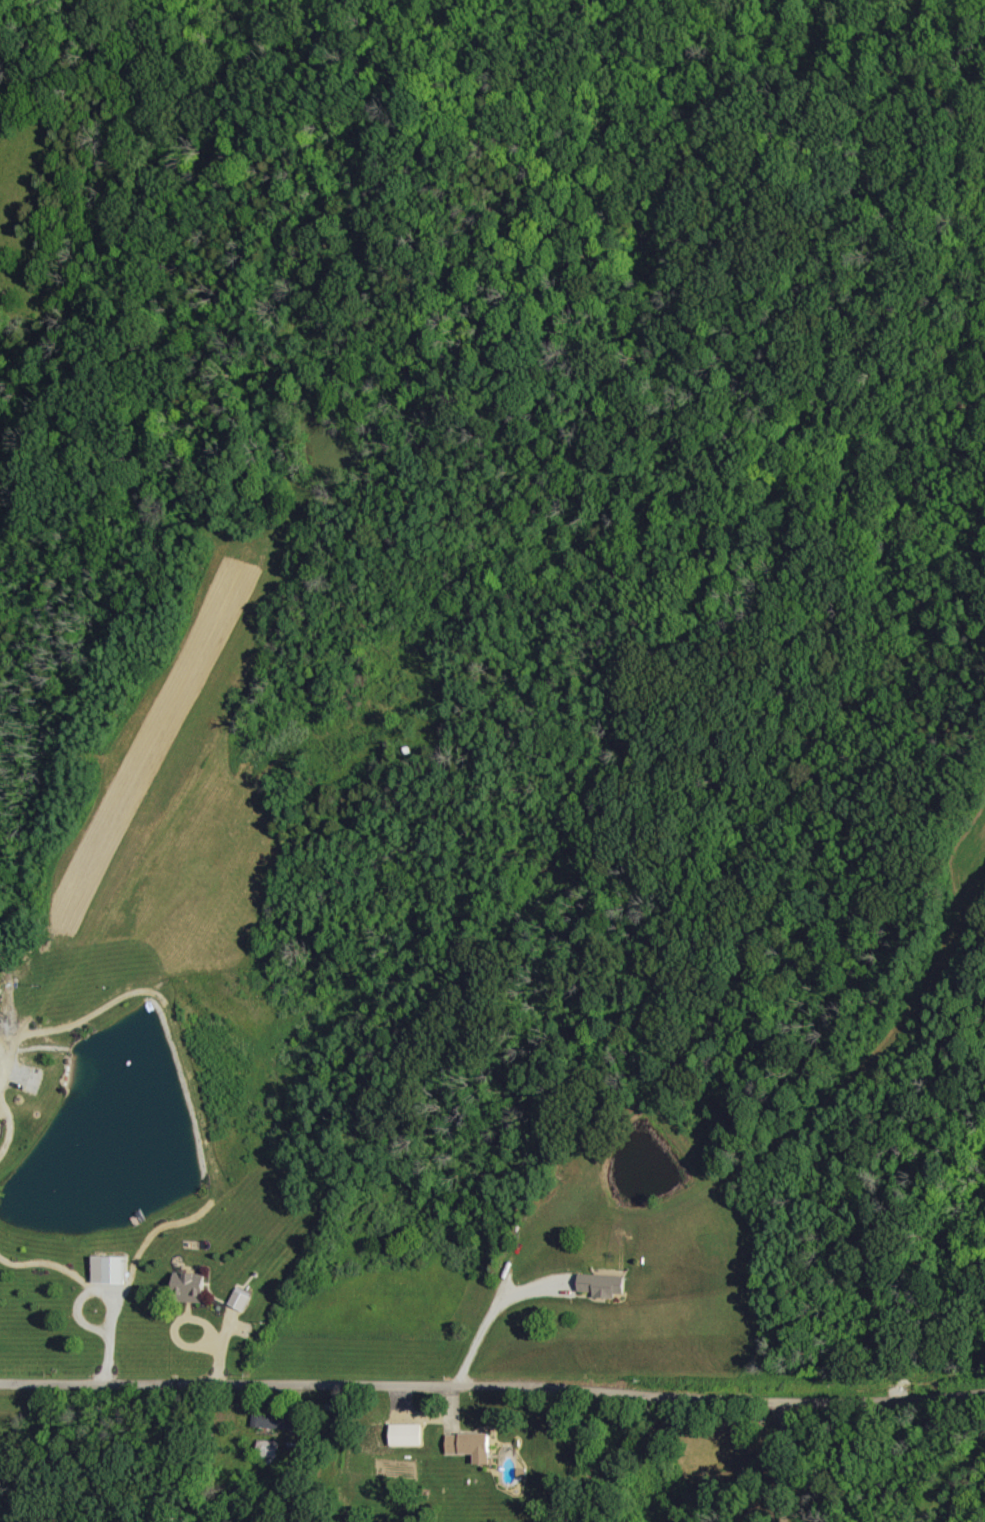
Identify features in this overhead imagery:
road: (10, 1129)
building: (107, 1269)
building: (602, 1284)
building: (189, 1287)
road: (94, 1292)
road: (489, 1316)
road: (493, 1398)
building: (406, 1434)
building: (470, 1446)
building: (267, 1448)
road: (782, 1465)

